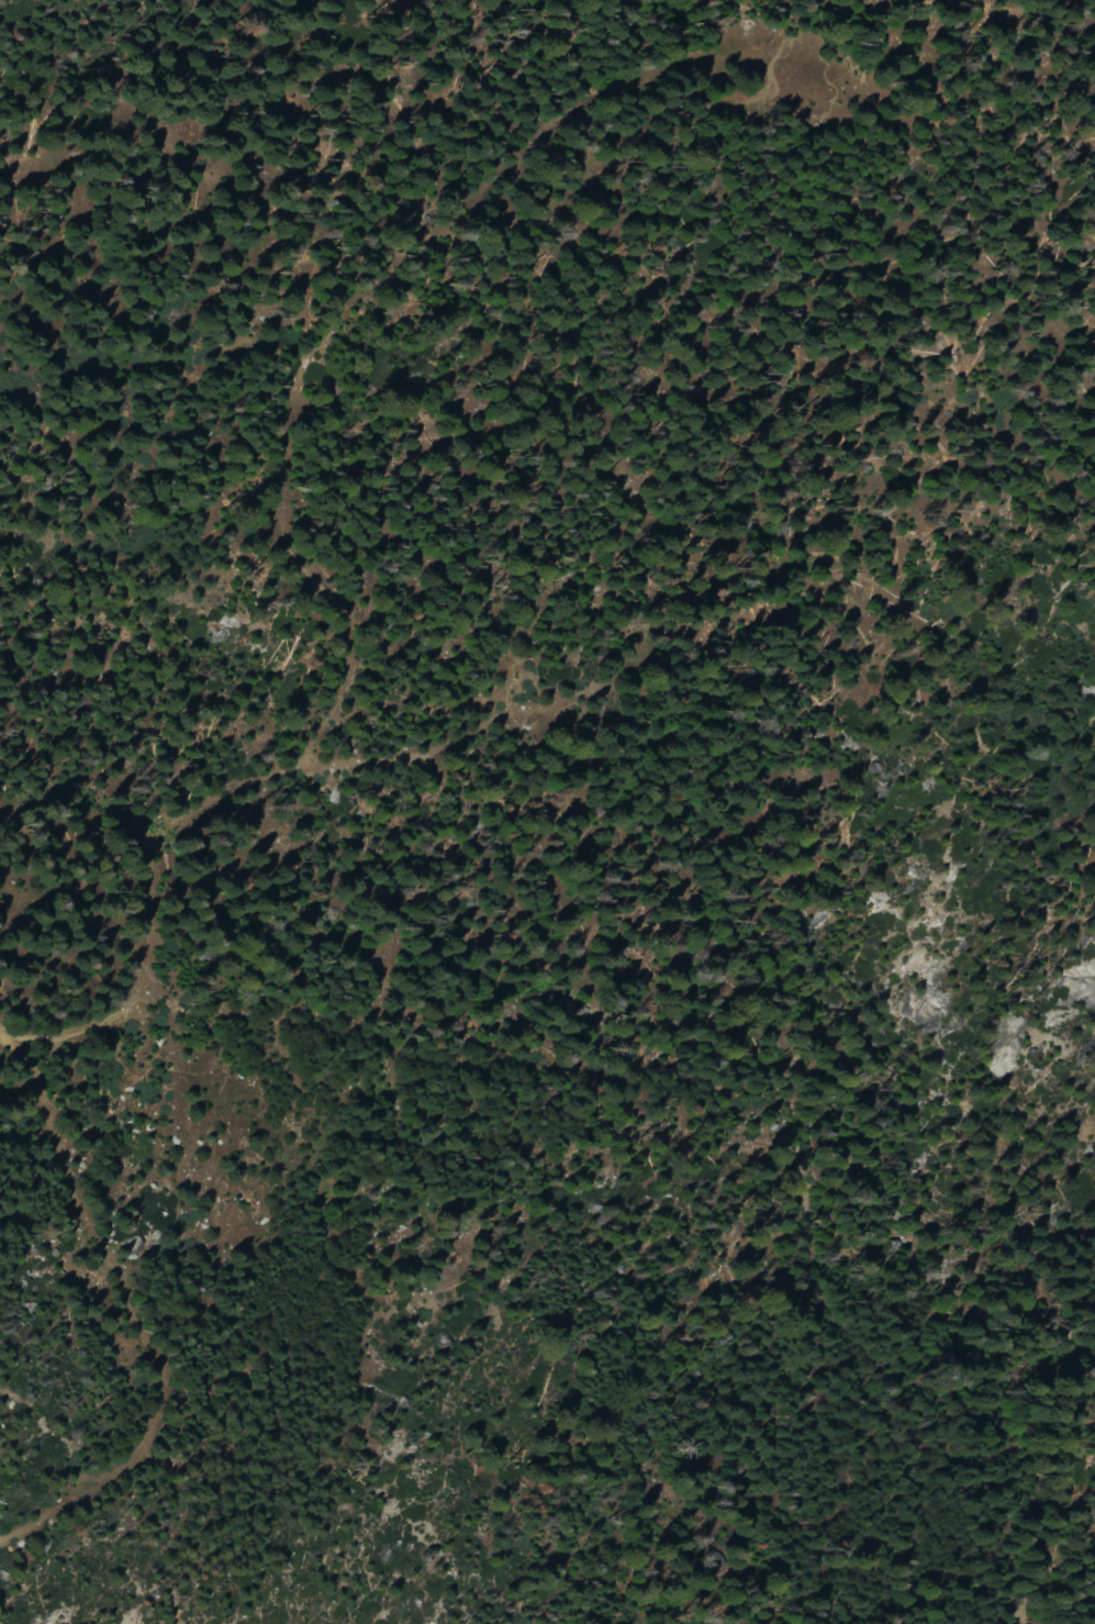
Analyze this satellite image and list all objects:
road: (474, 1092)
road: (145, 1359)

